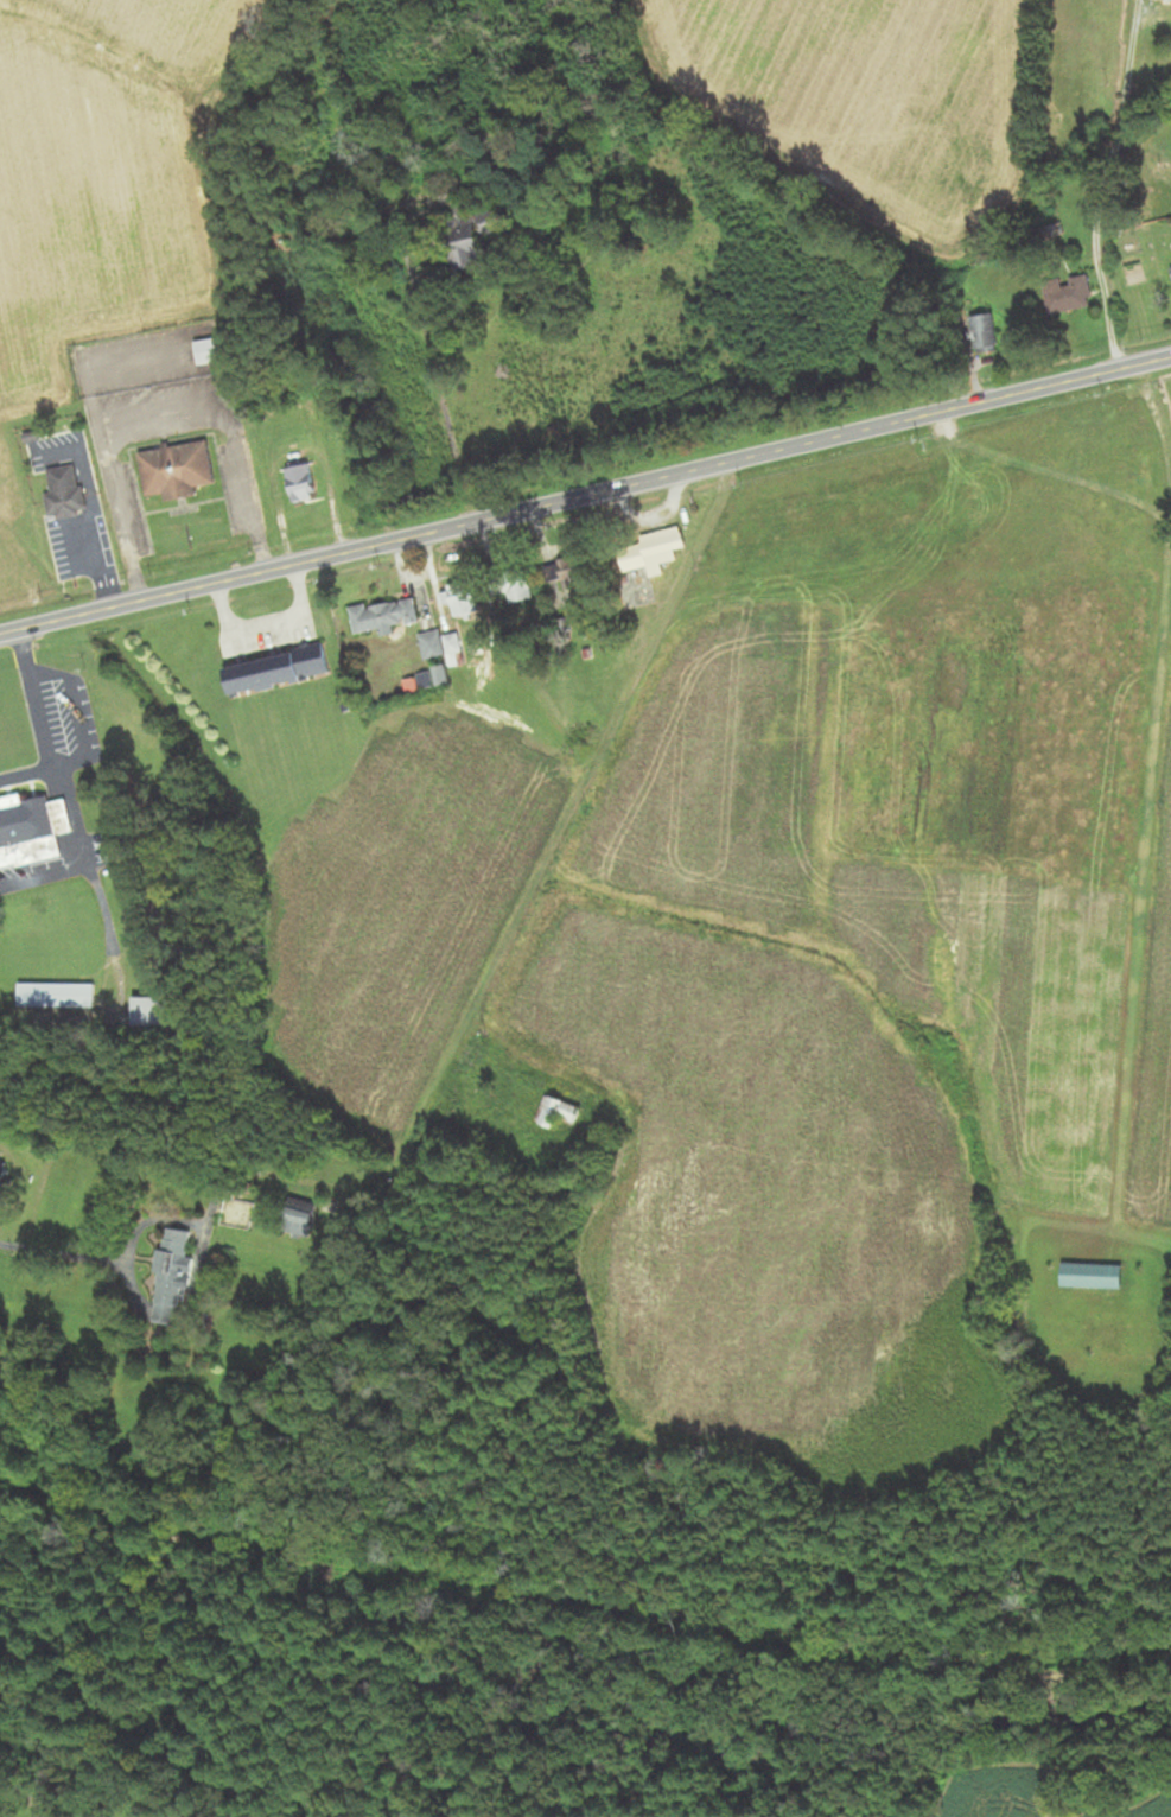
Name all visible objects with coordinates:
building: (463, 229)
building: (1069, 293)
building: (986, 332)
building: (208, 351)
building: (177, 470)
building: (301, 482)
building: (64, 493)
road: (585, 495)
building: (651, 549)
building: (573, 580)
building: (520, 587)
building: (462, 598)
building: (384, 616)
road: (265, 625)
building: (433, 644)
building: (278, 669)
road: (82, 722)
building: (32, 830)
building: (57, 996)
building: (152, 1012)
road: (520, 1025)
building: (562, 1114)
building: (2, 1174)
building: (301, 1218)
road: (68, 1244)
building: (172, 1273)

